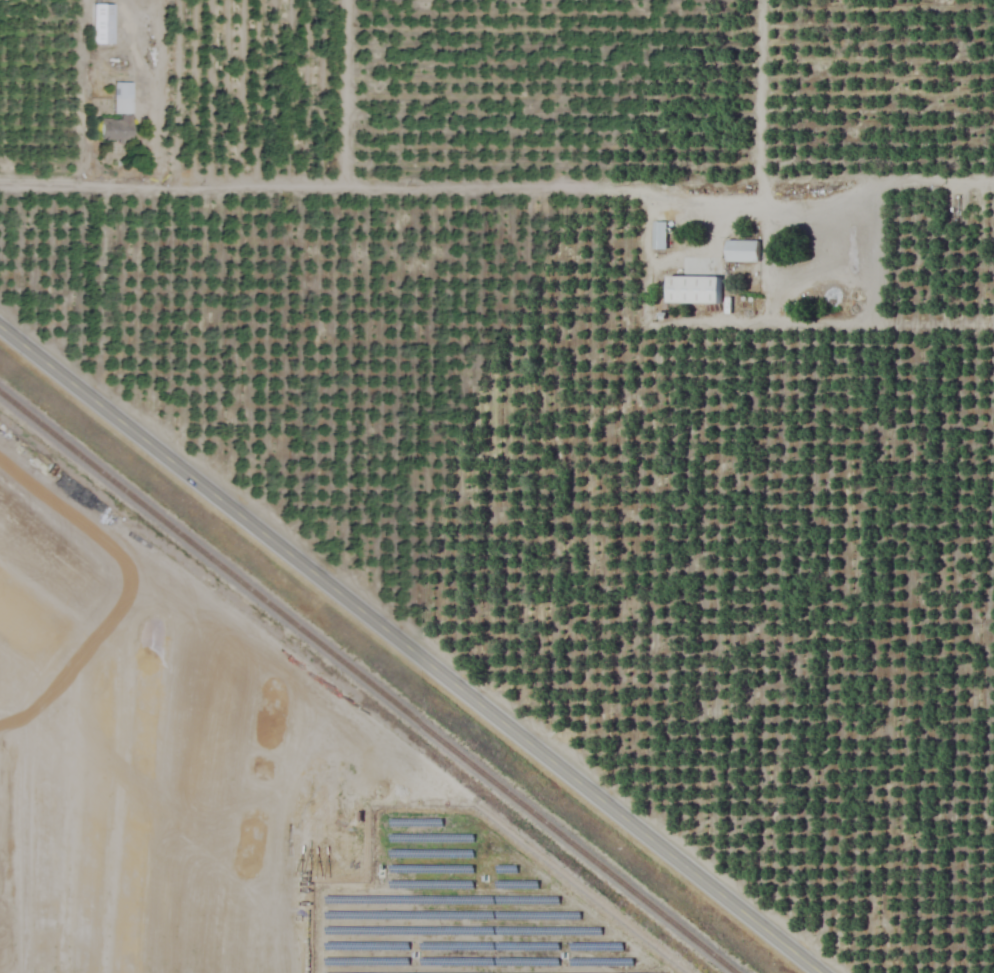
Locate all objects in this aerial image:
road: (930, 182)
road: (435, 186)
building: (659, 236)
building: (741, 252)
building: (692, 291)
crop: (508, 488)
road: (409, 650)
railway: (367, 684)

